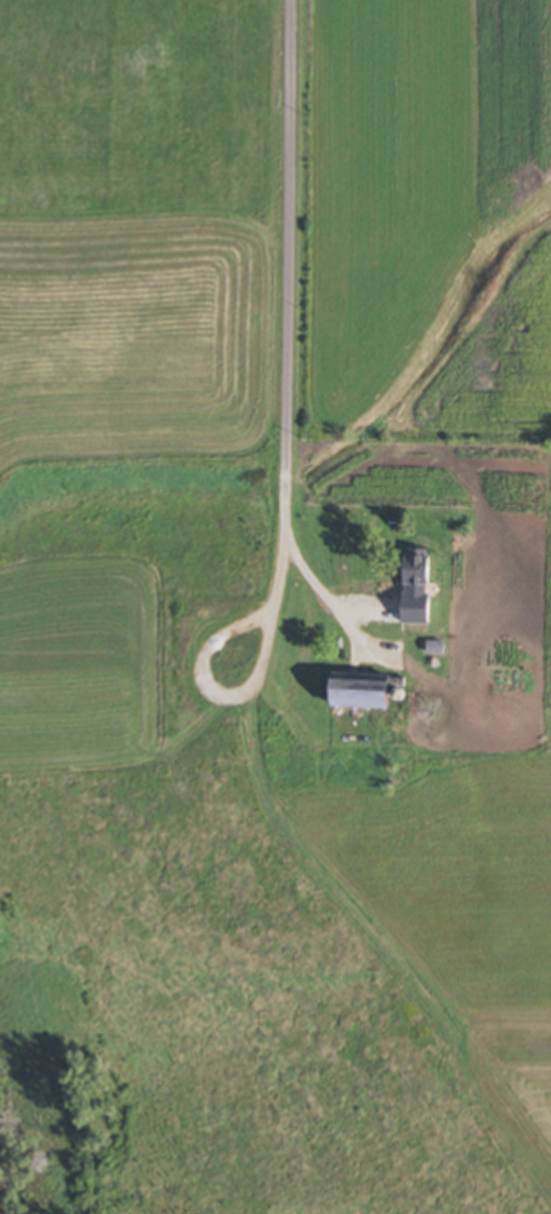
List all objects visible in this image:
road: (290, 350)
building: (417, 567)
building: (360, 691)

